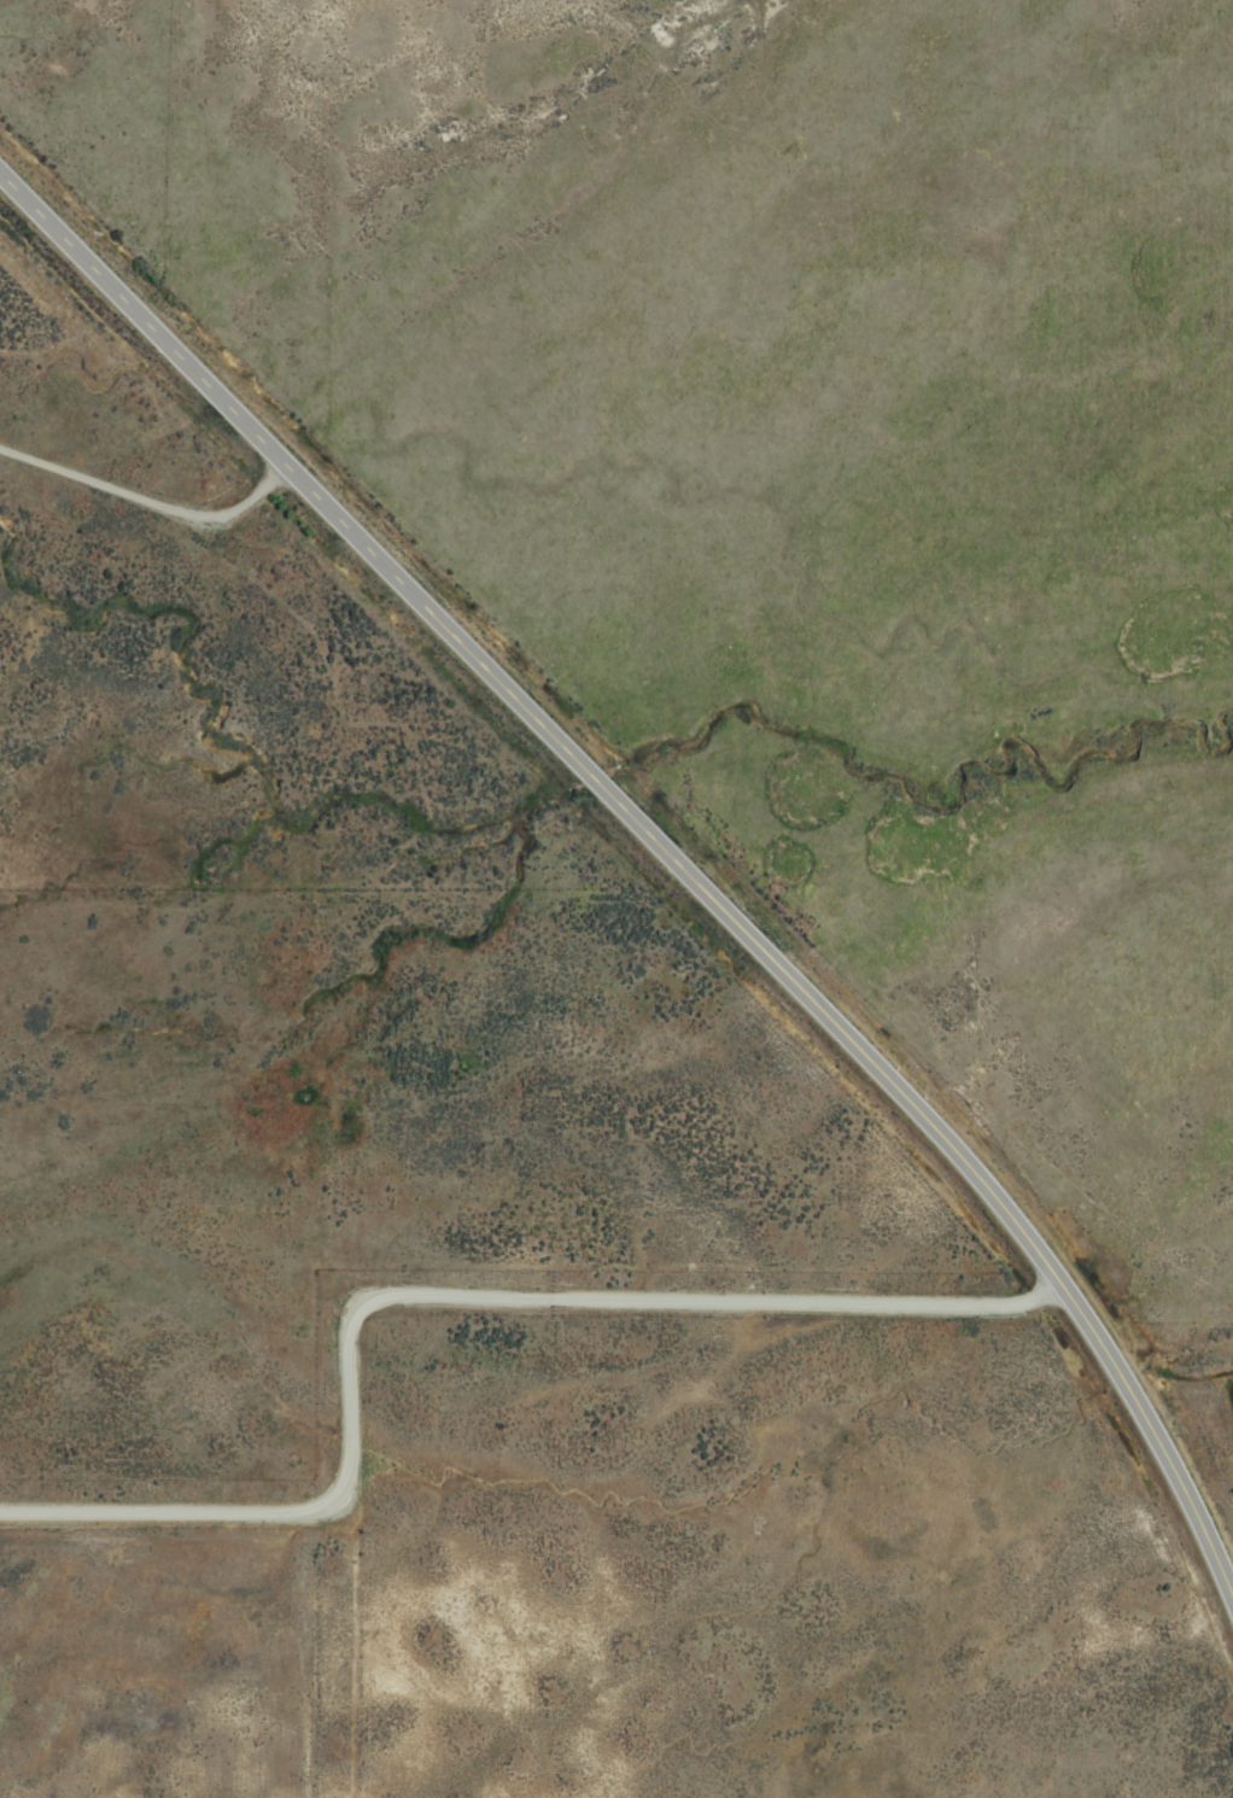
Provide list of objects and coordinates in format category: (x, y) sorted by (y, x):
road: (666, 895)
crop: (659, 923)
road: (445, 1292)

